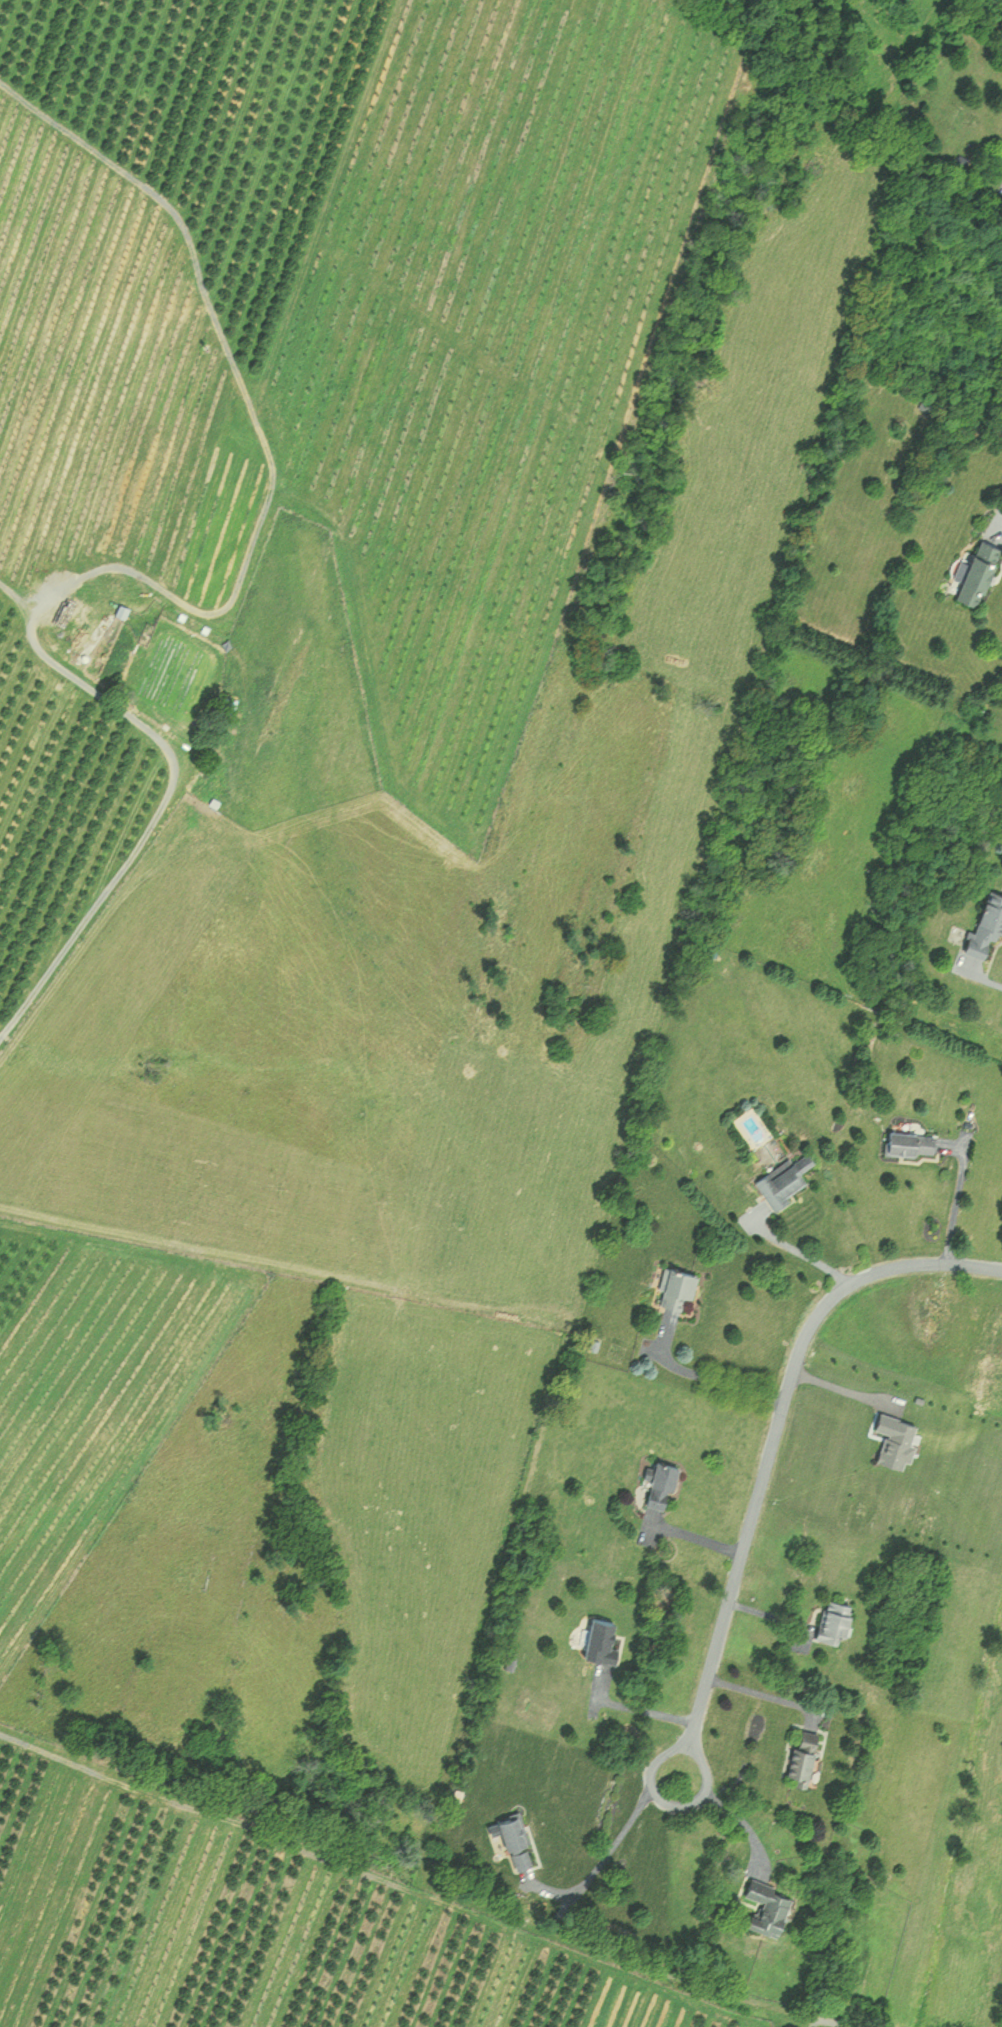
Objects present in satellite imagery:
road: (1001, 523)
building: (977, 573)
building: (89, 625)
building: (231, 706)
building: (985, 920)
road: (990, 981)
building: (907, 1143)
building: (784, 1179)
road: (953, 1203)
road: (790, 1247)
building: (680, 1286)
road: (701, 1376)
road: (839, 1388)
road: (771, 1447)
building: (667, 1484)
road: (688, 1536)
building: (829, 1620)
building: (602, 1638)
road: (763, 1695)
road: (630, 1707)
building: (807, 1755)
road: (733, 1813)
building: (517, 1831)
road: (607, 1852)
building: (526, 1860)
building: (773, 1905)
road: (840, 2024)

